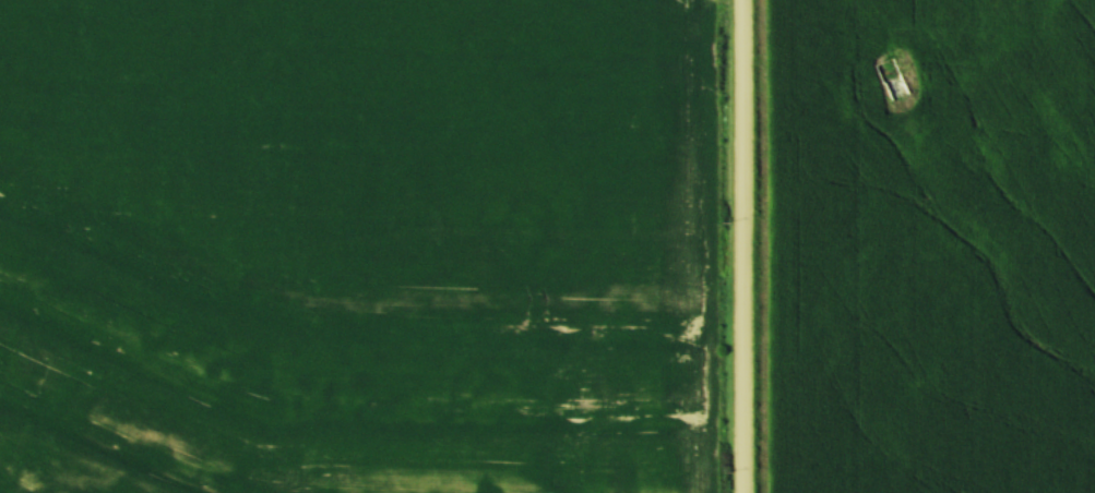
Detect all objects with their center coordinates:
road: (745, 245)

